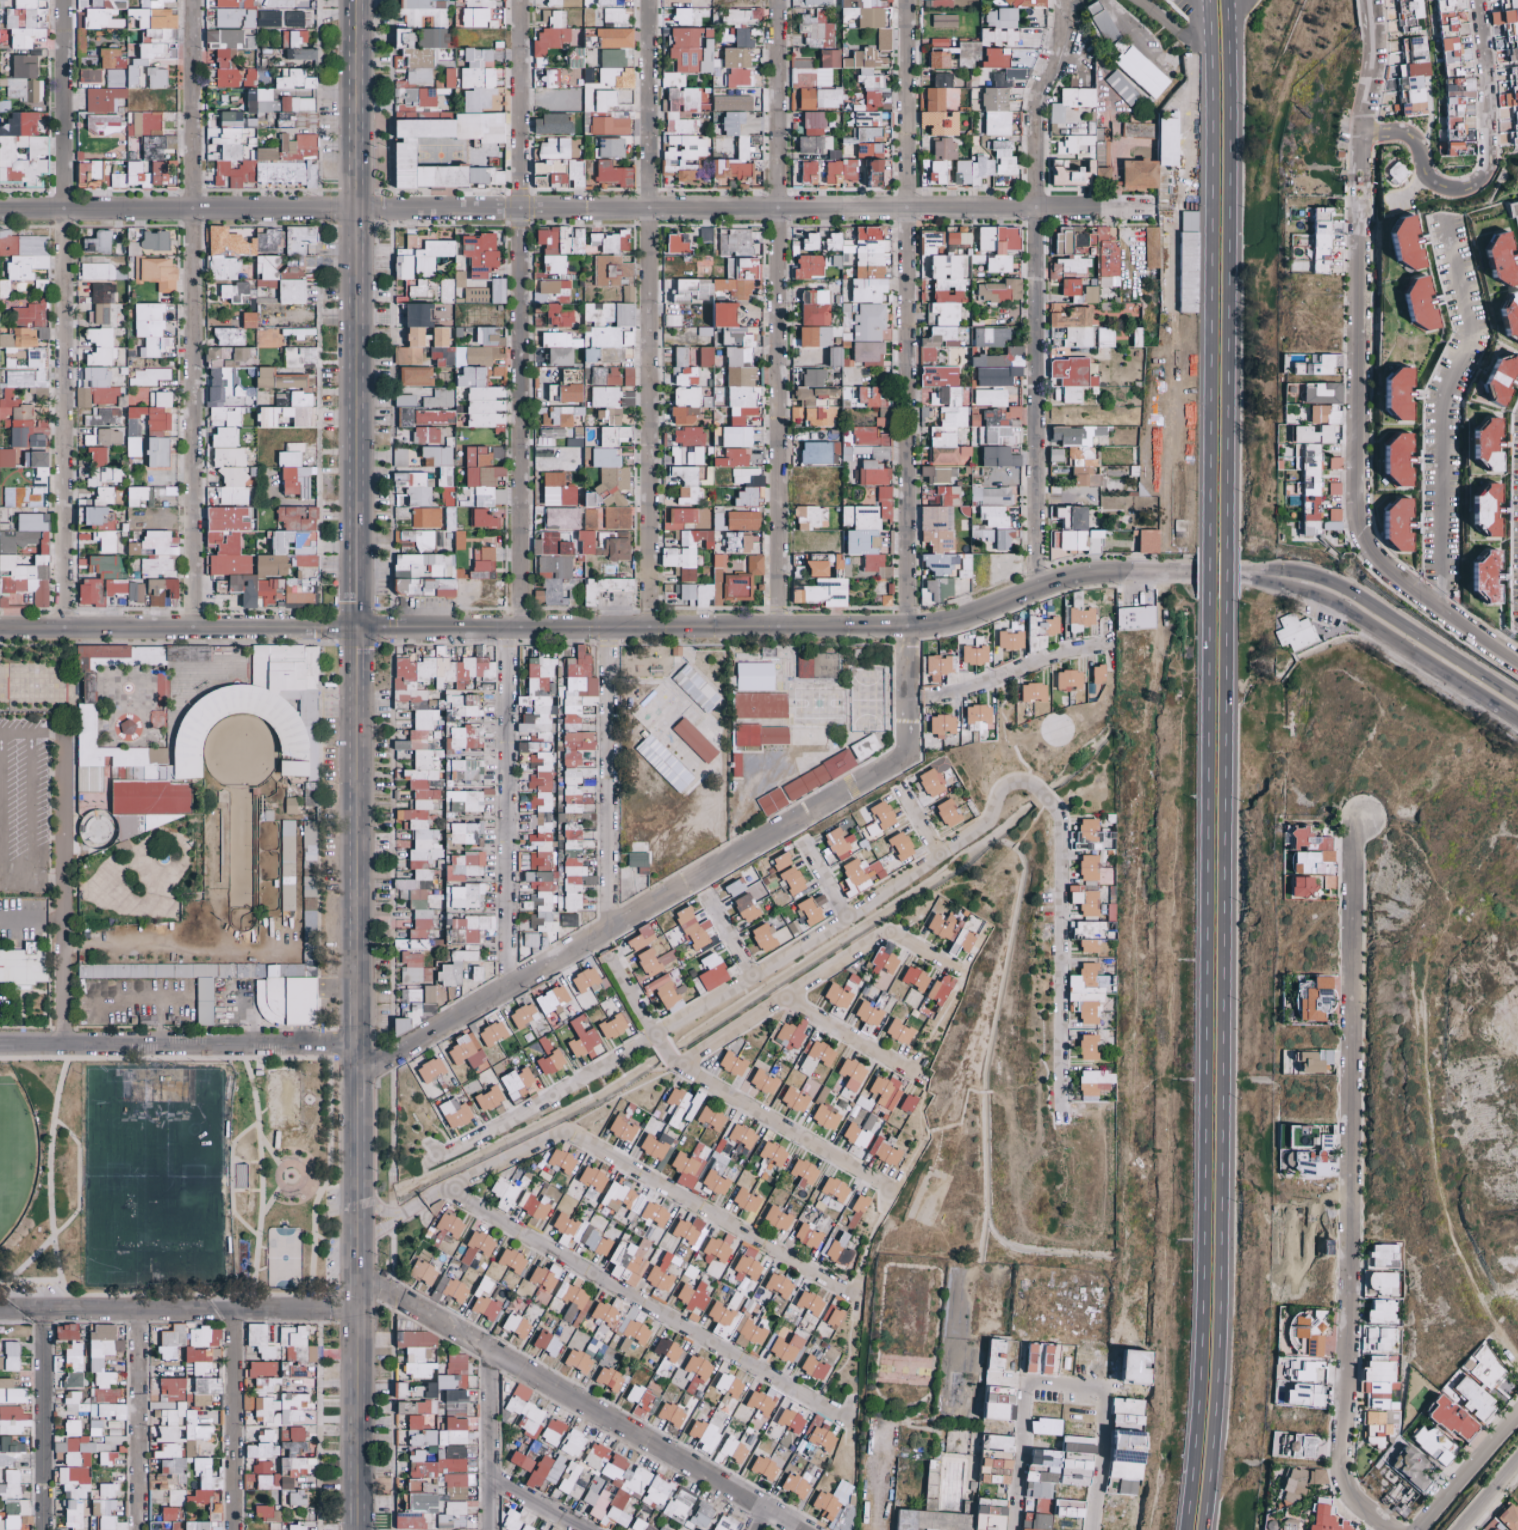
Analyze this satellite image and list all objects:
park: (284, 1096)
park: (13, 1153)
park: (151, 1175)
park: (167, 1176)

